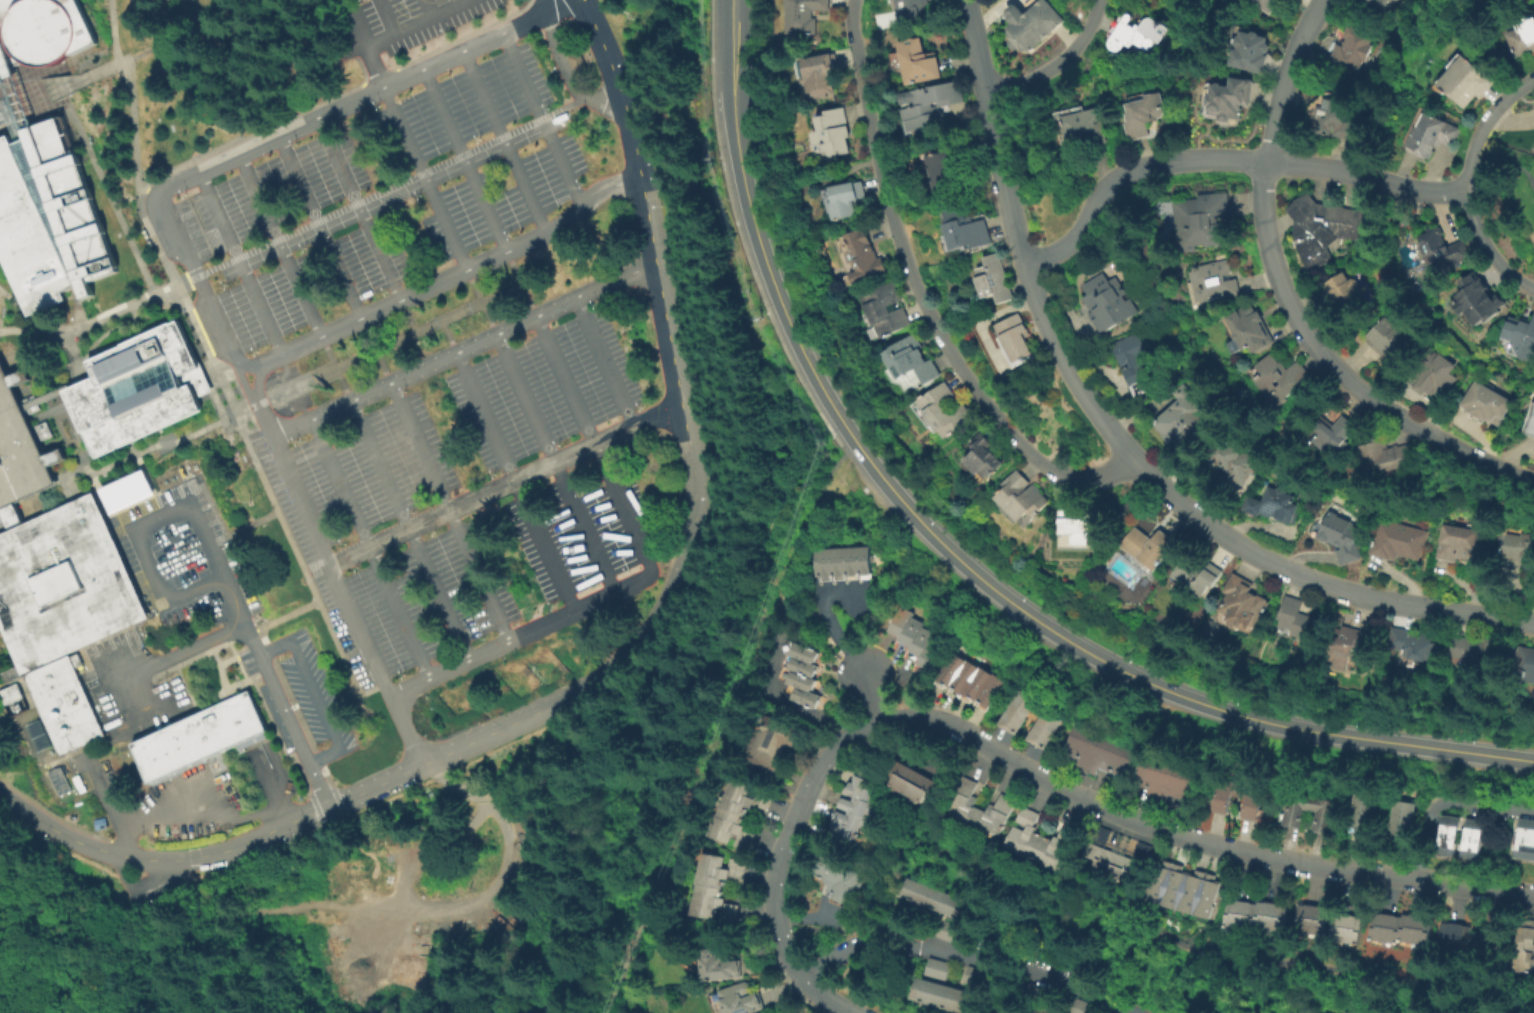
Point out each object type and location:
road: (464, 2)
road: (548, 2)
building: (1268, 4)
building: (1377, 5)
building: (914, 8)
road: (425, 9)
road: (593, 11)
road: (580, 12)
building: (805, 15)
road: (386, 18)
parking lot: (393, 23)
building: (1034, 23)
road: (419, 24)
building: (41, 31)
road: (114, 32)
building: (1138, 32)
building: (1519, 37)
road: (173, 39)
road: (1481, 43)
road: (363, 44)
road: (736, 45)
building: (1253, 50)
building: (1348, 50)
building: (919, 59)
building: (575, 61)
road: (1057, 63)
road: (566, 72)
building: (822, 74)
road: (1286, 79)
building: (1459, 82)
road: (45, 92)
road: (623, 98)
building: (1232, 98)
road: (355, 102)
building: (932, 105)
road: (0, 111)
building: (1146, 114)
building: (1337, 116)
road: (7, 117)
road: (543, 121)
building: (1087, 127)
building: (833, 131)
road: (135, 135)
building: (1429, 135)
road: (505, 143)
road: (1222, 159)
road: (465, 161)
road: (1504, 165)
building: (950, 171)
road: (426, 179)
road: (1463, 183)
road: (391, 189)
parking lot: (385, 197)
building: (849, 198)
road: (111, 204)
park: (1505, 204)
road: (360, 210)
building: (48, 218)
road: (170, 220)
building: (1204, 220)
road: (320, 228)
building: (1322, 229)
building: (959, 230)
road: (739, 239)
road: (280, 247)
building: (1438, 250)
building: (866, 257)
road: (241, 265)
road: (772, 277)
building: (996, 279)
road: (442, 282)
building: (1214, 283)
road: (522, 285)
building: (1337, 289)
building: (1475, 295)
road: (496, 296)
road: (922, 300)
road: (208, 301)
road: (747, 301)
building: (1112, 302)
road: (482, 303)
building: (889, 309)
road: (22, 310)
road: (56, 311)
road: (76, 311)
road: (115, 313)
road: (409, 317)
road: (450, 317)
building: (1252, 329)
road: (7, 332)
road: (107, 334)
road: (411, 335)
road: (53, 337)
road: (450, 337)
building: (1518, 338)
building: (1017, 340)
building: (1388, 340)
road: (379, 350)
road: (464, 351)
road: (376, 352)
road: (76, 355)
road: (14, 356)
building: (908, 360)
road: (212, 362)
road: (347, 364)
building: (1140, 364)
road: (606, 365)
road: (337, 370)
road: (1337, 370)
building: (1429, 375)
building: (1284, 379)
road: (241, 380)
road: (258, 380)
road: (302, 384)
building: (138, 389)
road: (54, 392)
road: (259, 404)
building: (1480, 405)
building: (947, 410)
road: (244, 412)
building: (1187, 421)
building: (1529, 421)
road: (223, 422)
road: (196, 430)
building: (1337, 433)
road: (1119, 436)
road: (165, 444)
road: (595, 445)
building: (20, 450)
building: (1390, 453)
building: (986, 456)
building: (1234, 461)
road: (556, 465)
road: (72, 471)
road: (516, 482)
road: (507, 489)
building: (125, 491)
road: (468, 495)
parking lot: (470, 496)
building: (1024, 496)
building: (1277, 505)
road: (451, 512)
road: (135, 530)
building: (1080, 530)
road: (410, 531)
building: (1343, 537)
building: (1400, 541)
building: (1461, 543)
building: (1153, 547)
building: (1518, 547)
road: (371, 549)
parking lot: (187, 558)
building: (861, 561)
building: (848, 562)
building: (835, 563)
building: (822, 564)
road: (789, 570)
building: (1199, 575)
road: (308, 577)
road: (337, 582)
building: (63, 584)
building: (1247, 603)
building: (1299, 618)
building: (899, 620)
road: (274, 623)
building: (908, 631)
road: (693, 632)
road: (521, 636)
building: (919, 640)
building: (1418, 644)
building: (1352, 647)
building: (1471, 649)
building: (801, 650)
building: (928, 654)
road: (163, 660)
road: (239, 663)
building: (801, 664)
building: (1523, 664)
building: (800, 678)
building: (974, 682)
road: (1155, 686)
road: (276, 692)
parking lot: (313, 692)
building: (9, 693)
building: (803, 694)
road: (229, 695)
road: (315, 695)
road: (873, 697)
building: (64, 704)
road: (550, 708)
building: (1016, 710)
building: (1042, 728)
building: (198, 736)
building: (777, 741)
building: (1103, 753)
road: (542, 756)
building: (914, 780)
building: (57, 781)
building: (1171, 781)
road: (1073, 793)
building: (1254, 796)
road: (1446, 803)
building: (976, 808)
road: (343, 810)
building: (848, 810)
building: (1359, 812)
building: (1295, 815)
building: (732, 817)
road: (418, 819)
building: (1400, 819)
building: (1457, 835)
road: (504, 837)
building: (1523, 838)
building: (1034, 841)
building: (1120, 855)
road: (570, 858)
road: (147, 879)
building: (838, 879)
road: (205, 880)
building: (714, 886)
building: (895, 887)
building: (1187, 887)
parking lot: (156, 892)
building: (908, 892)
building: (920, 896)
building: (933, 902)
building: (946, 907)
building: (958, 911)
building: (1258, 913)
building: (1315, 916)
road: (1131, 926)
building: (1351, 926)
building: (1404, 926)
road: (703, 931)
building: (948, 932)
building: (1458, 935)
road: (783, 941)
building: (1494, 942)
building: (1524, 949)
road: (969, 956)
building: (721, 962)
road: (628, 963)
building: (936, 966)
building: (974, 975)
road: (809, 983)
building: (938, 994)
building: (743, 998)
building: (1046, 1012)
building: (1293, 1012)

